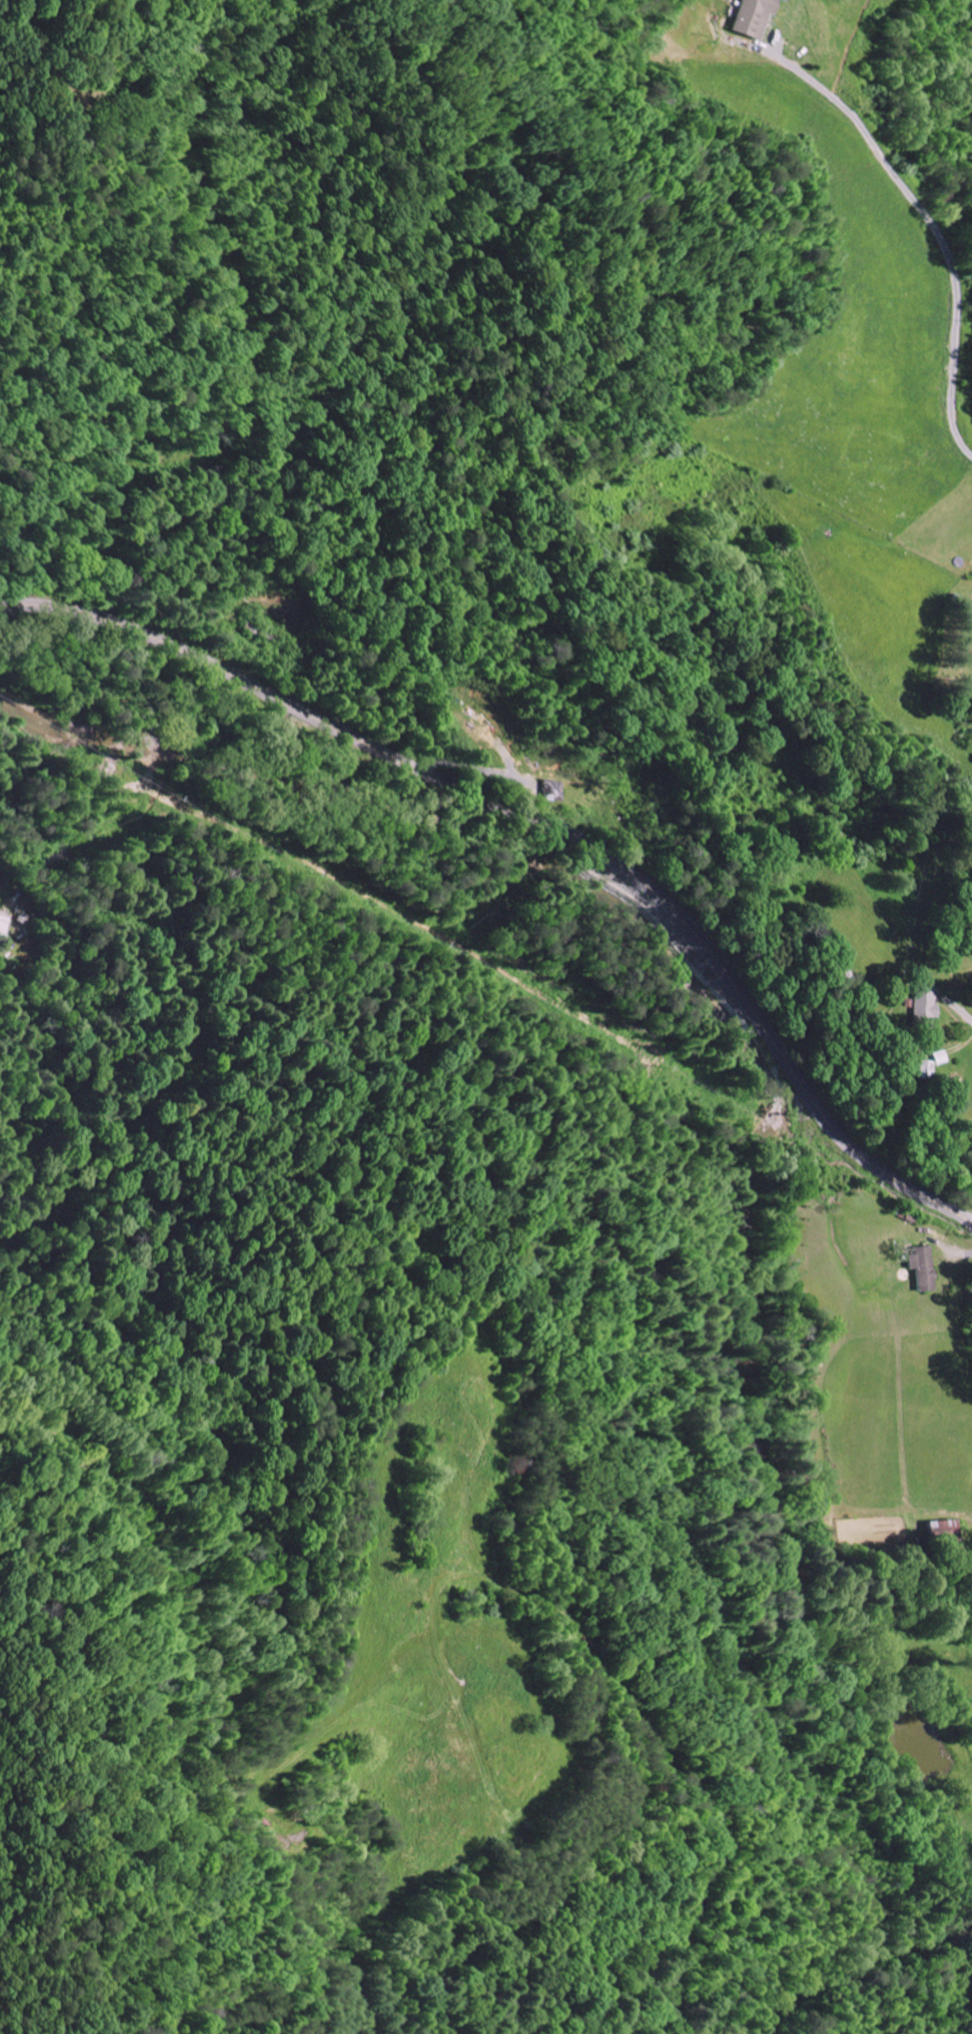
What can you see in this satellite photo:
building: (761, 17)
building: (557, 790)
road: (546, 823)
building: (2, 925)
building: (928, 1008)
building: (943, 1057)
building: (929, 1267)
building: (944, 1530)
road: (693, 1663)

